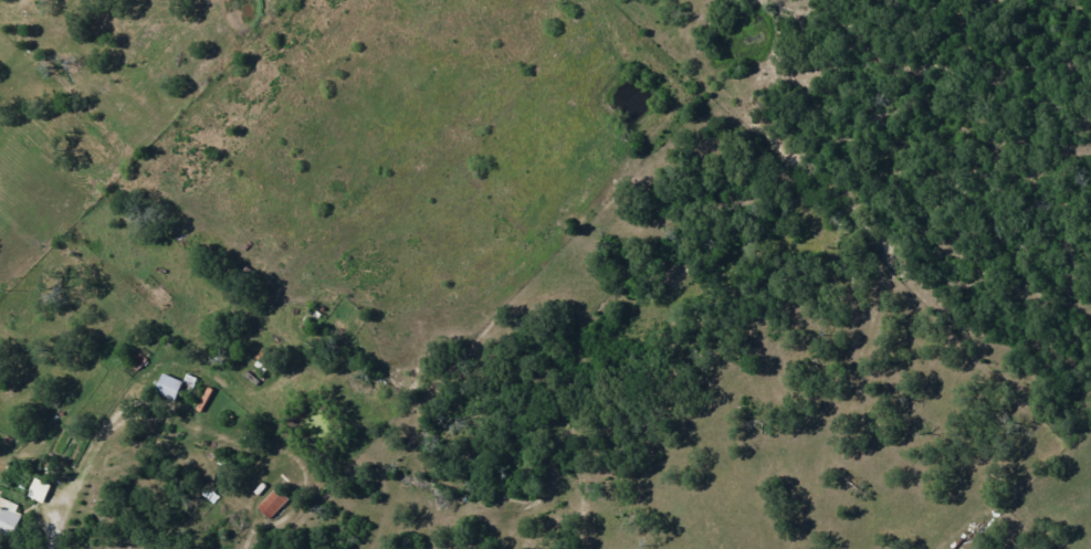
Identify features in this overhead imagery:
building: (170, 388)
building: (40, 492)
building: (274, 504)
building: (10, 519)

